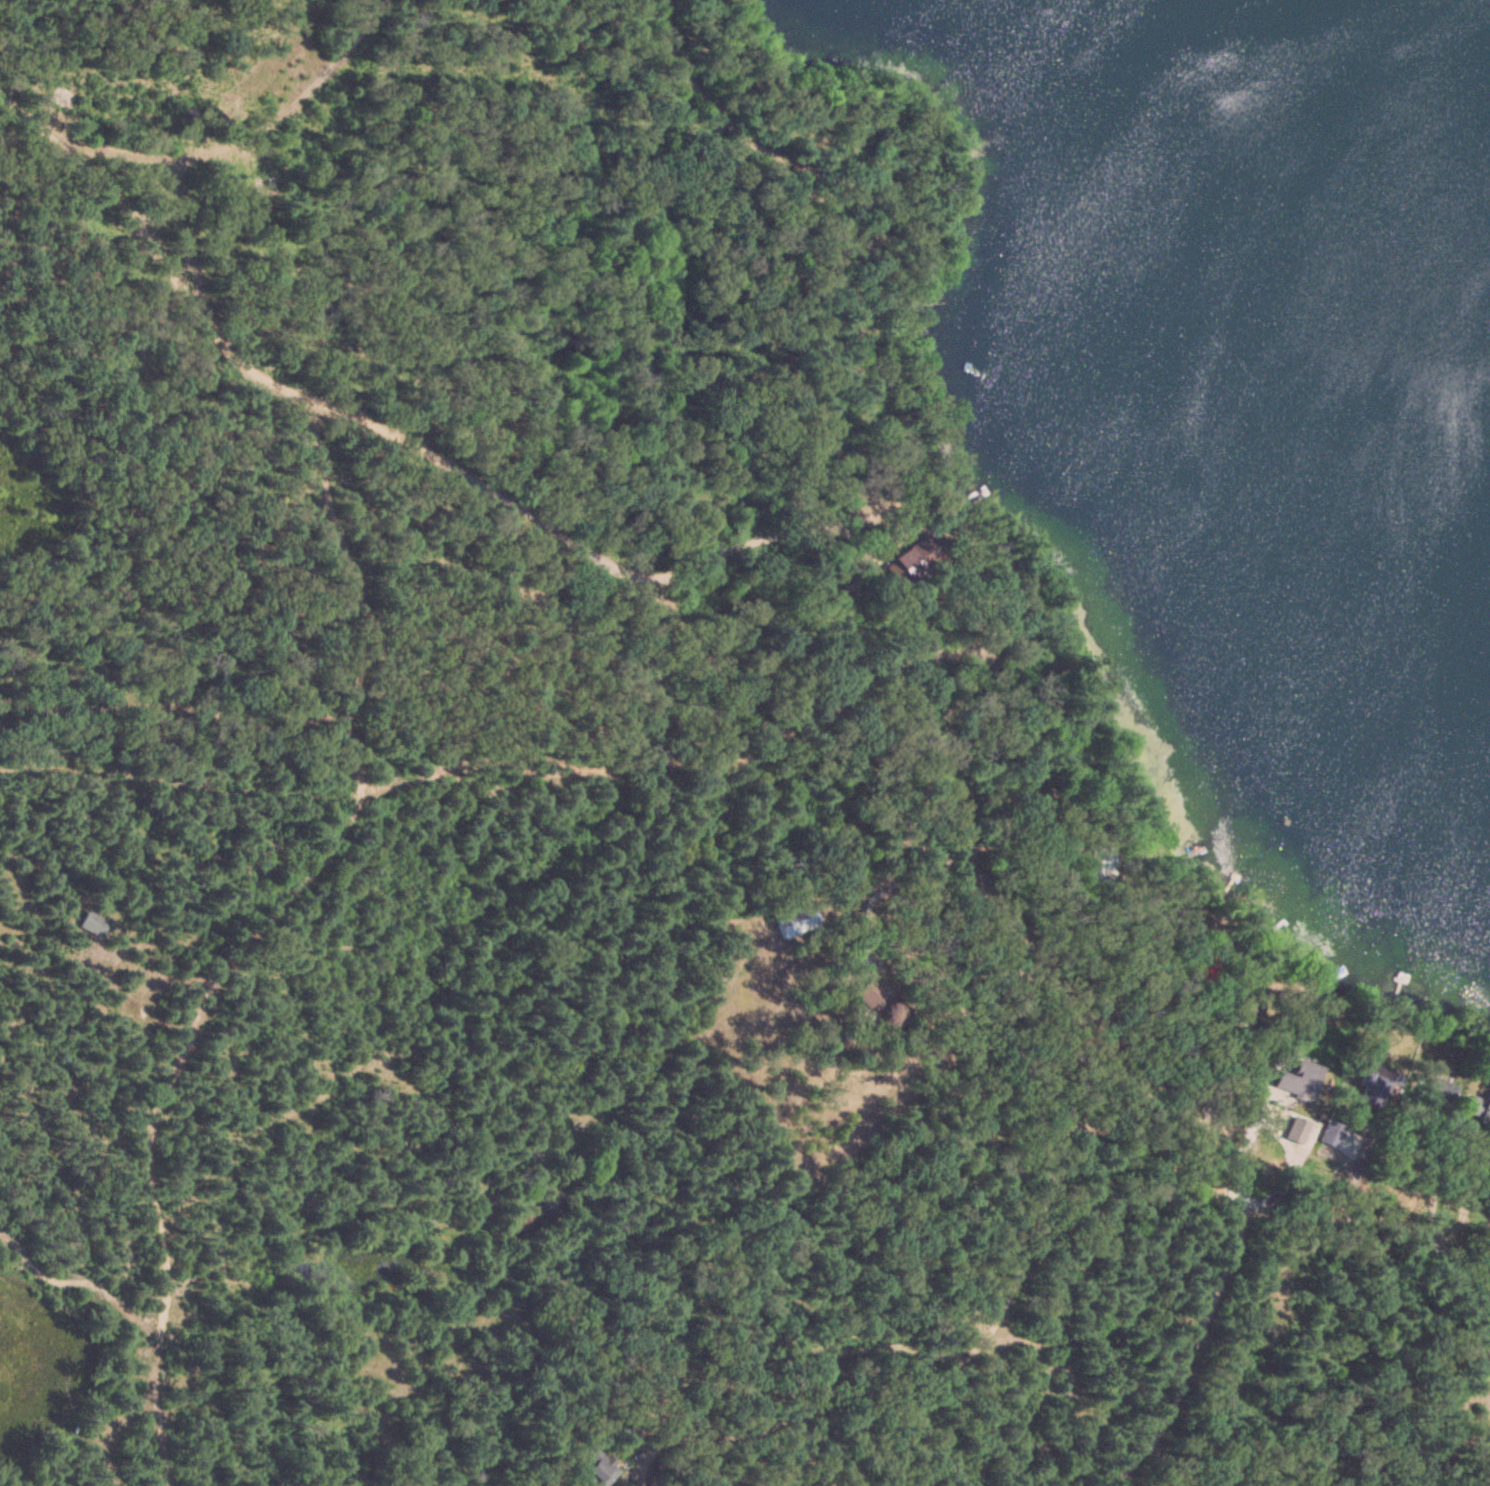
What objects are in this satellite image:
building: (62, 101)
road: (221, 157)
building: (267, 187)
road: (183, 239)
road: (423, 452)
building: (911, 563)
road: (607, 772)
road: (904, 838)
building: (795, 923)
building: (93, 925)
building: (869, 995)
building: (1300, 1083)
building: (1377, 1084)
building: (1481, 1110)
building: (1299, 1133)
road: (1237, 1151)
road: (1164, 1169)
road: (1189, 1357)
building: (1486, 1366)
road: (933, 1375)
building: (595, 1469)

